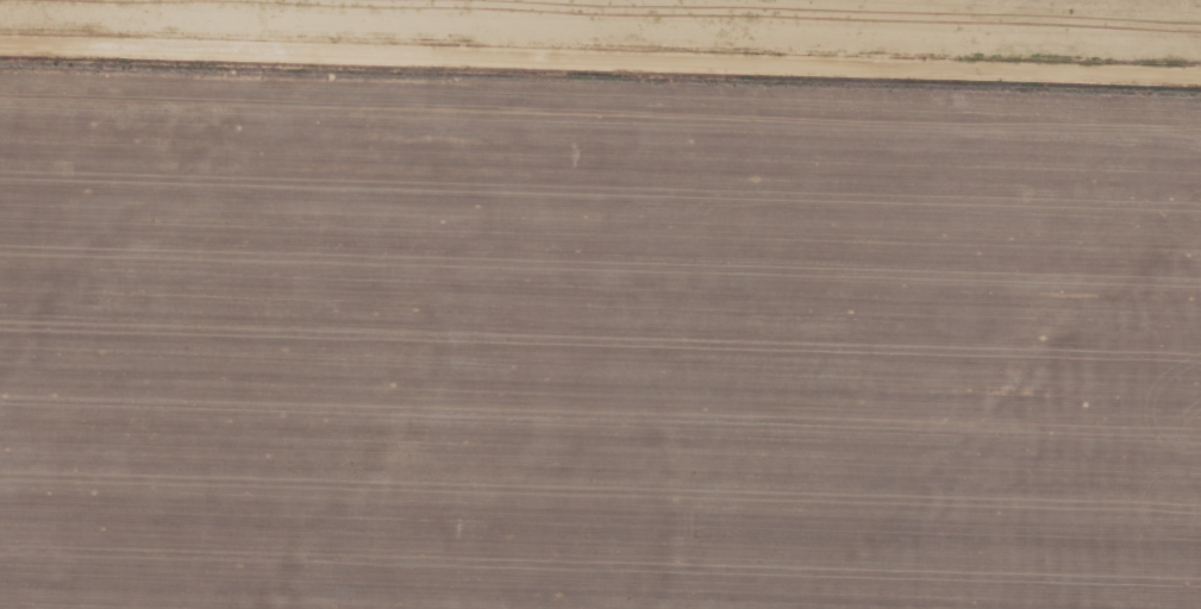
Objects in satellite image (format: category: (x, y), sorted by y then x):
road: (600, 54)

